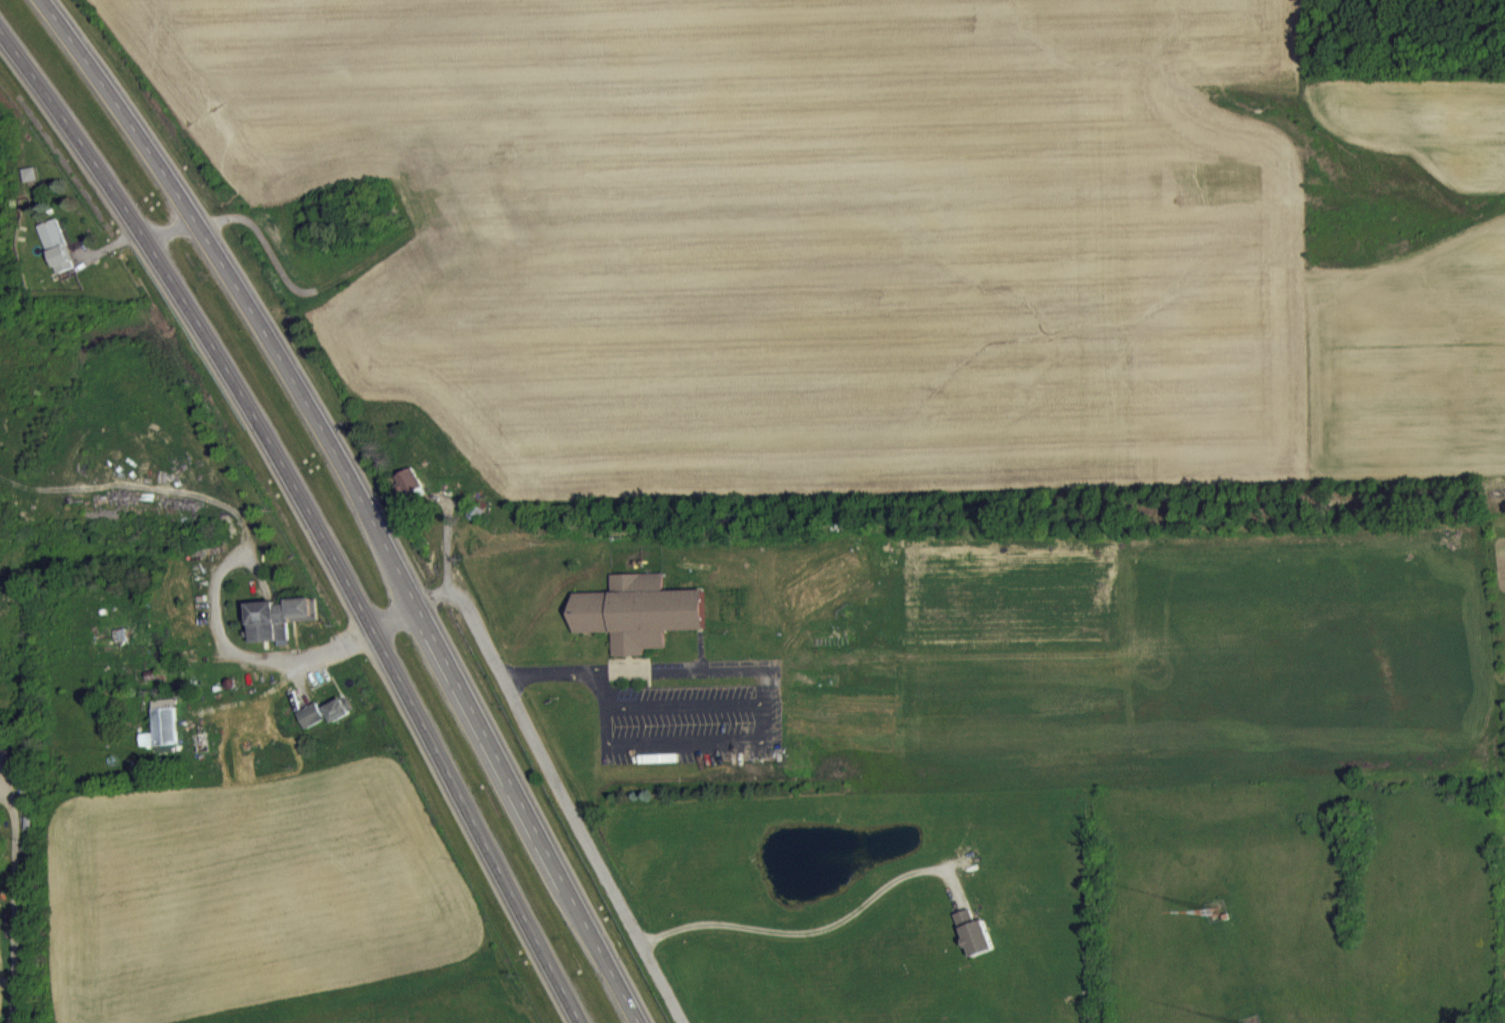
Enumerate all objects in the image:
building: (57, 257)
building: (409, 492)
road: (359, 501)
road: (313, 513)
building: (638, 623)
building: (280, 630)
road: (483, 637)
road: (545, 671)
road: (764, 697)
building: (338, 721)
building: (311, 726)
building: (163, 738)
road: (680, 742)
road: (15, 902)
road: (817, 929)
building: (974, 945)

